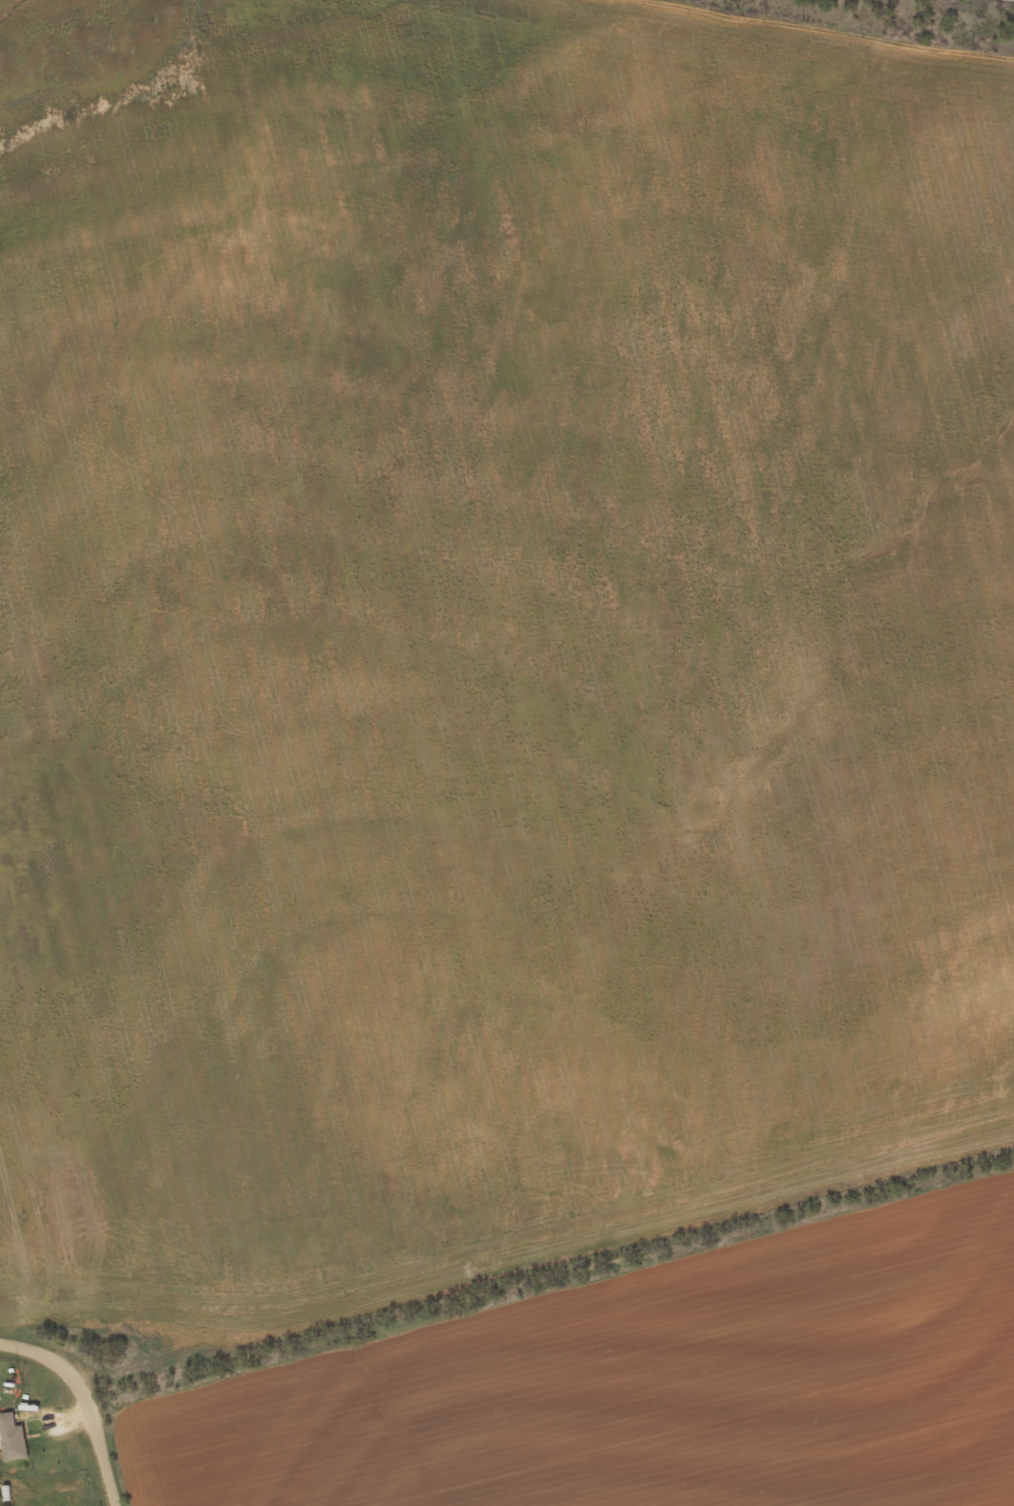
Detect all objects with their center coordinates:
road: (79, 1405)

